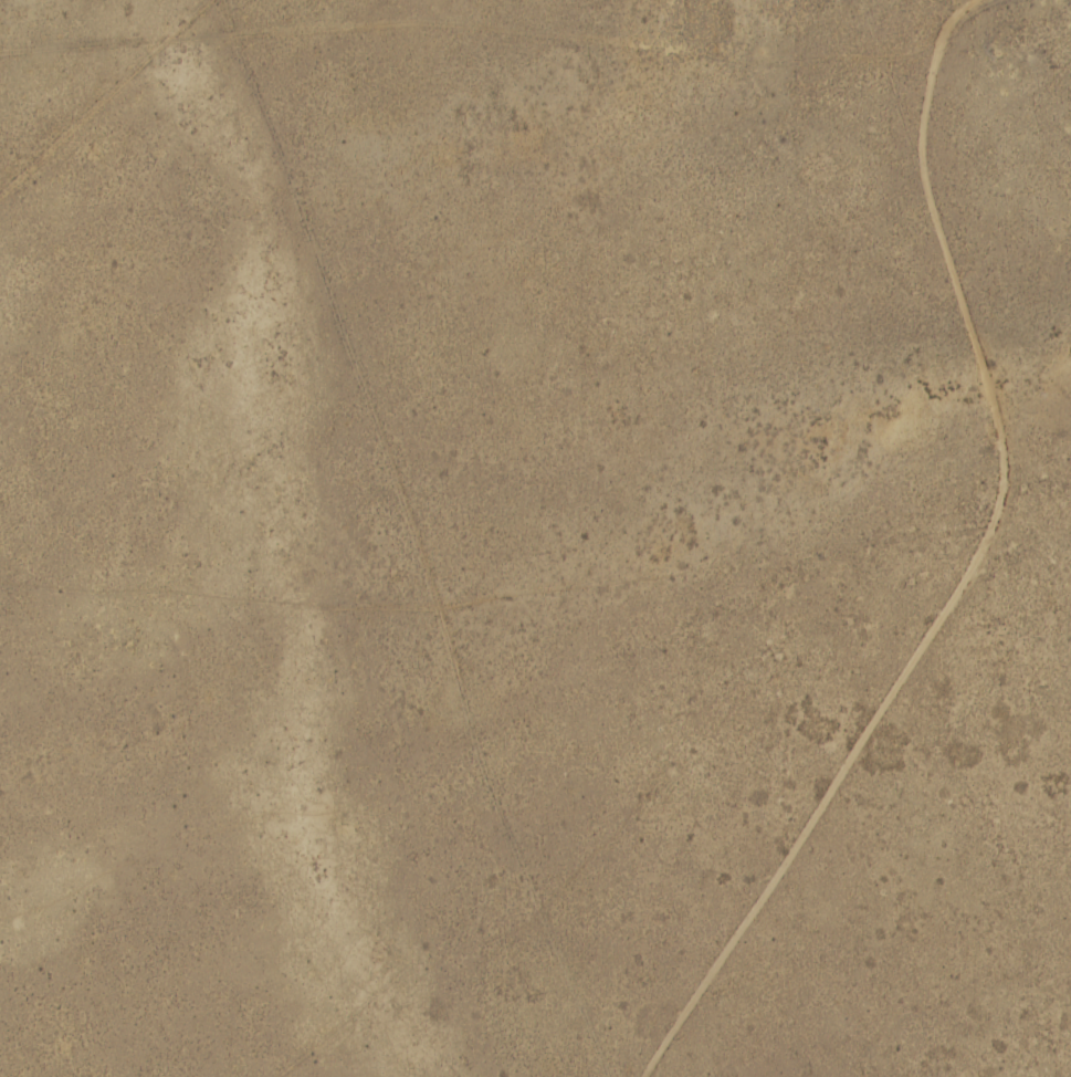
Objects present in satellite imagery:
road: (349, 569)

